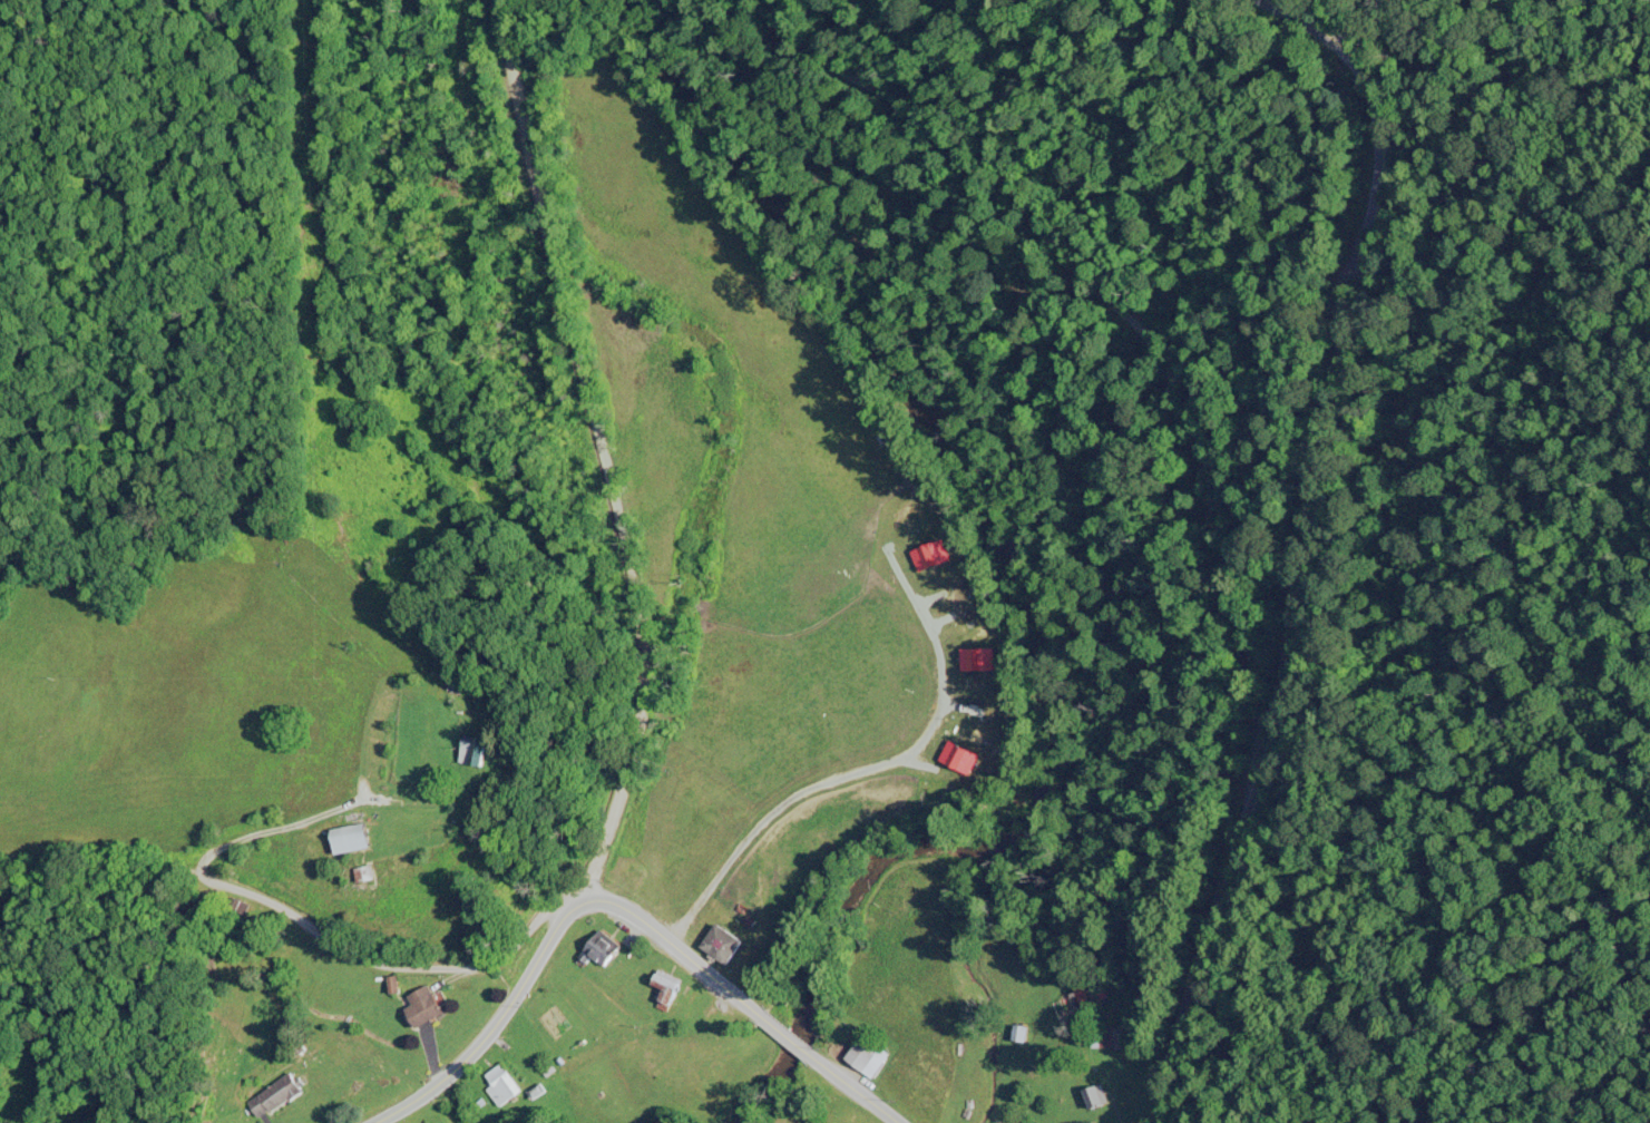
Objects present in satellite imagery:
road: (604, 457)
road: (1305, 543)
building: (359, 834)
road: (124, 885)
road: (671, 937)
road: (406, 963)
building: (429, 1003)
road: (788, 1032)
road: (486, 1035)
building: (504, 1082)
road: (856, 1087)
building: (285, 1090)
building: (1095, 1095)

